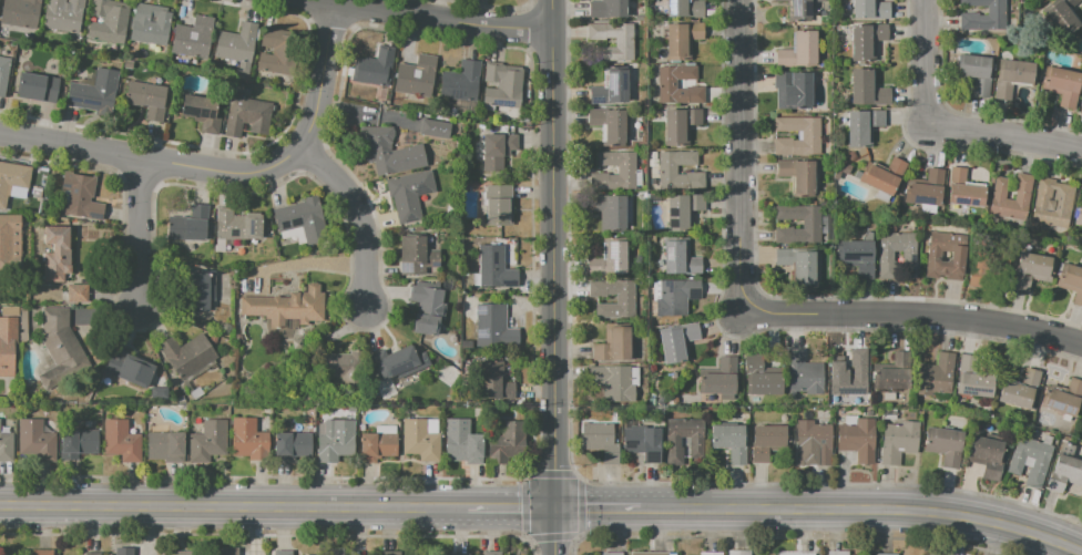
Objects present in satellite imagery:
building: (0, 0)
building: (803, 8)
building: (610, 10)
building: (686, 10)
building: (870, 10)
building: (22, 13)
building: (65, 16)
building: (970, 16)
building: (1065, 16)
road: (435, 17)
building: (110, 22)
building: (152, 25)
building: (195, 39)
building: (866, 40)
building: (684, 41)
building: (625, 45)
building: (238, 48)
building: (802, 53)
building: (282, 54)
road: (922, 61)
building: (376, 68)
building: (3, 74)
building: (979, 74)
road: (324, 76)
building: (419, 76)
building: (1014, 79)
building: (463, 83)
building: (668, 84)
building: (867, 86)
building: (40, 88)
building: (504, 88)
building: (1065, 88)
building: (798, 89)
building: (614, 91)
building: (96, 93)
building: (149, 100)
building: (1080, 105)
building: (204, 113)
building: (248, 116)
building: (611, 125)
building: (683, 125)
building: (862, 125)
building: (432, 127)
road: (1002, 135)
building: (813, 136)
building: (500, 151)
building: (392, 153)
building: (851, 155)
road: (737, 158)
road: (154, 163)
building: (846, 168)
building: (668, 169)
building: (629, 171)
building: (885, 175)
building: (802, 177)
building: (12, 181)
building: (927, 189)
building: (963, 189)
building: (1022, 195)
building: (411, 196)
building: (81, 197)
building: (501, 204)
building: (1051, 204)
building: (612, 213)
building: (684, 213)
building: (1079, 215)
road: (355, 217)
building: (304, 219)
building: (9, 225)
building: (193, 225)
building: (813, 225)
building: (241, 226)
road: (143, 233)
building: (58, 254)
road: (553, 254)
building: (885, 256)
building: (418, 257)
building: (857, 257)
building: (942, 258)
building: (682, 259)
building: (613, 260)
building: (797, 265)
building: (984, 265)
building: (498, 269)
building: (1031, 269)
building: (1071, 282)
building: (200, 290)
building: (78, 292)
building: (680, 296)
building: (627, 300)
building: (288, 307)
building: (428, 309)
road: (911, 320)
building: (496, 328)
building: (237, 337)
building: (296, 343)
building: (674, 343)
building: (8, 346)
building: (616, 346)
building: (62, 349)
building: (190, 356)
building: (396, 363)
building: (347, 364)
building: (130, 368)
building: (837, 370)
building: (891, 374)
building: (802, 376)
building: (936, 376)
building: (758, 378)
building: (717, 379)
building: (971, 379)
building: (497, 382)
building: (612, 382)
building: (1019, 390)
building: (195, 392)
building: (161, 393)
building: (1063, 398)
building: (350, 410)
building: (888, 413)
building: (457, 419)
building: (1081, 422)
building: (38, 440)
building: (251, 440)
building: (857, 440)
building: (122, 441)
building: (421, 441)
building: (599, 441)
building: (695, 441)
building: (814, 441)
building: (210, 442)
building: (337, 442)
building: (728, 442)
building: (764, 442)
building: (898, 442)
building: (504, 443)
building: (640, 443)
building: (81, 444)
building: (6, 446)
building: (379, 446)
building: (943, 446)
building: (167, 448)
building: (294, 448)
building: (465, 449)
building: (984, 456)
building: (1015, 464)
building: (1064, 474)
road: (233, 507)
road: (510, 510)
traffic signals: (555, 510)
road: (598, 510)
road: (862, 514)
road: (555, 532)
building: (125, 552)
building: (231, 552)
building: (44, 553)
building: (184, 553)
building: (284, 553)
building: (335, 553)
building: (385, 553)
building: (490, 553)
building: (610, 553)
building: (737, 553)
building: (794, 553)
building: (835, 553)
building: (91, 554)
building: (307, 554)
building: (455, 554)
building: (647, 554)
building: (711, 554)
building: (892, 554)

